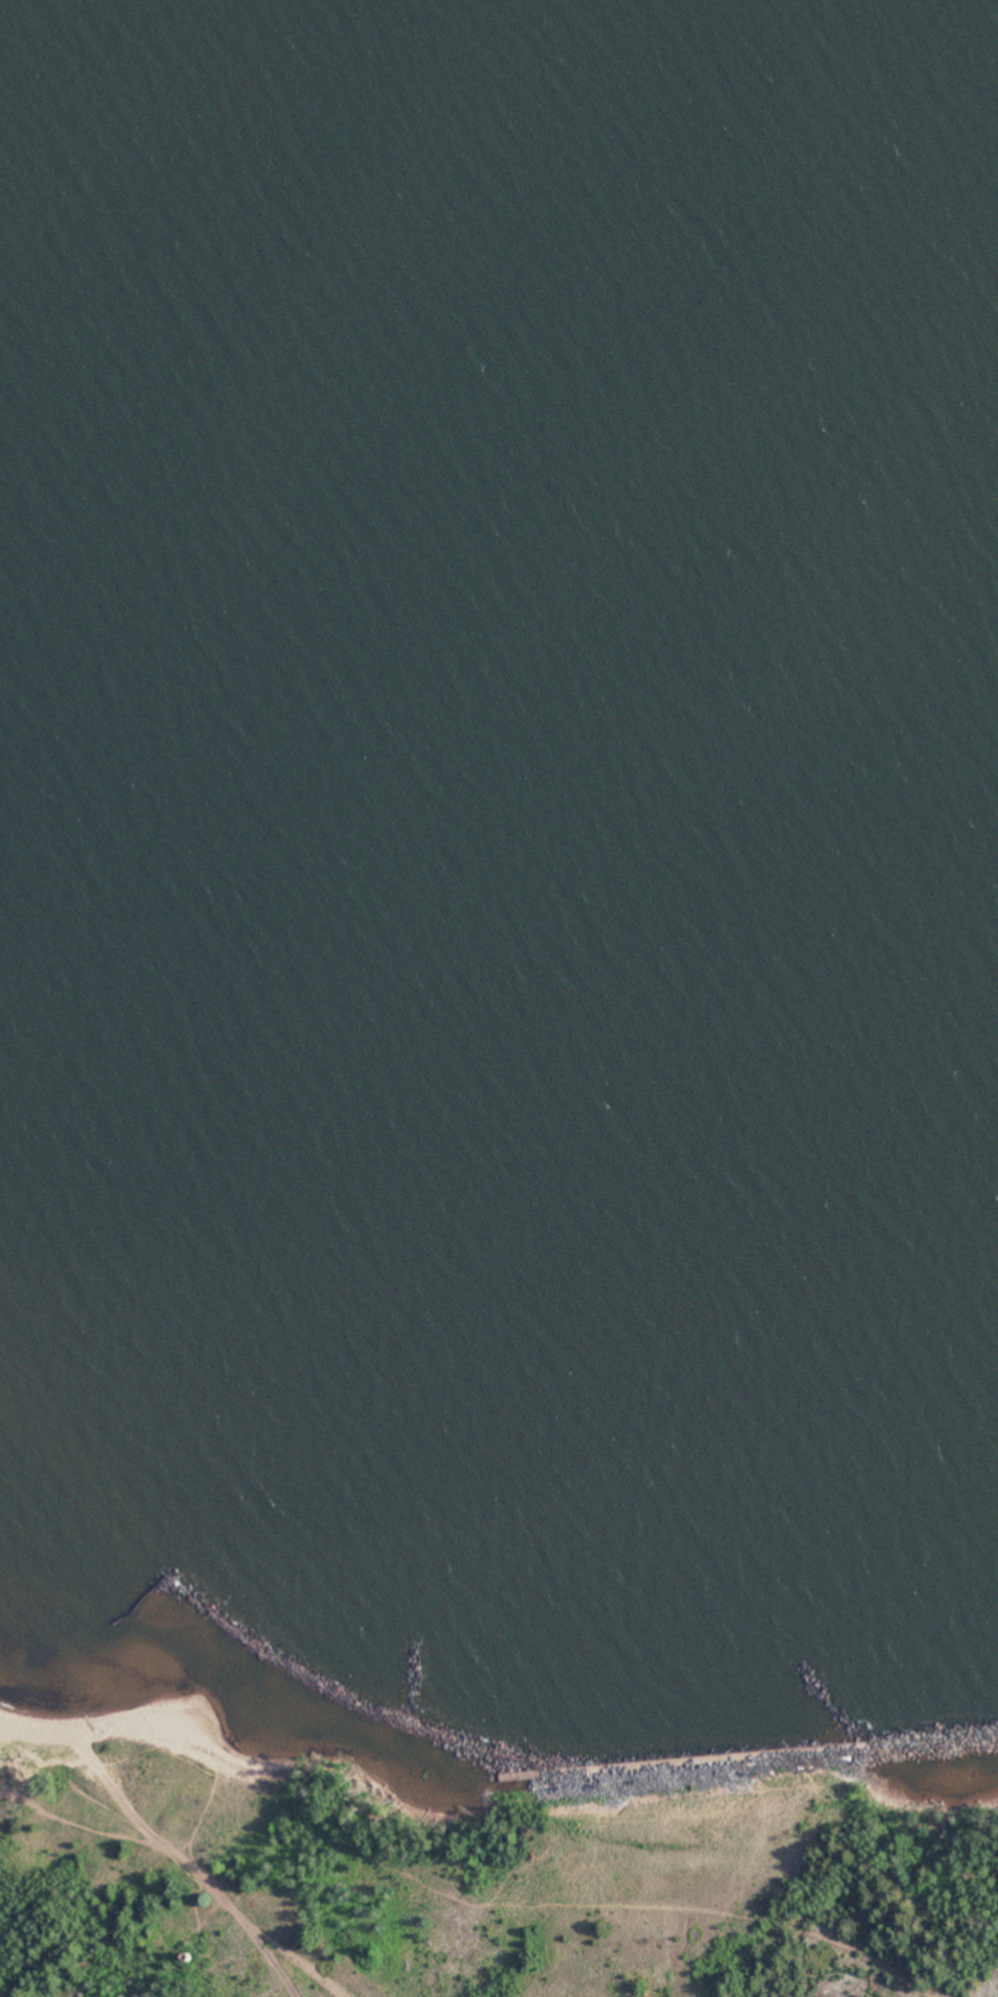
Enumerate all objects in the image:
road: (190, 1862)

